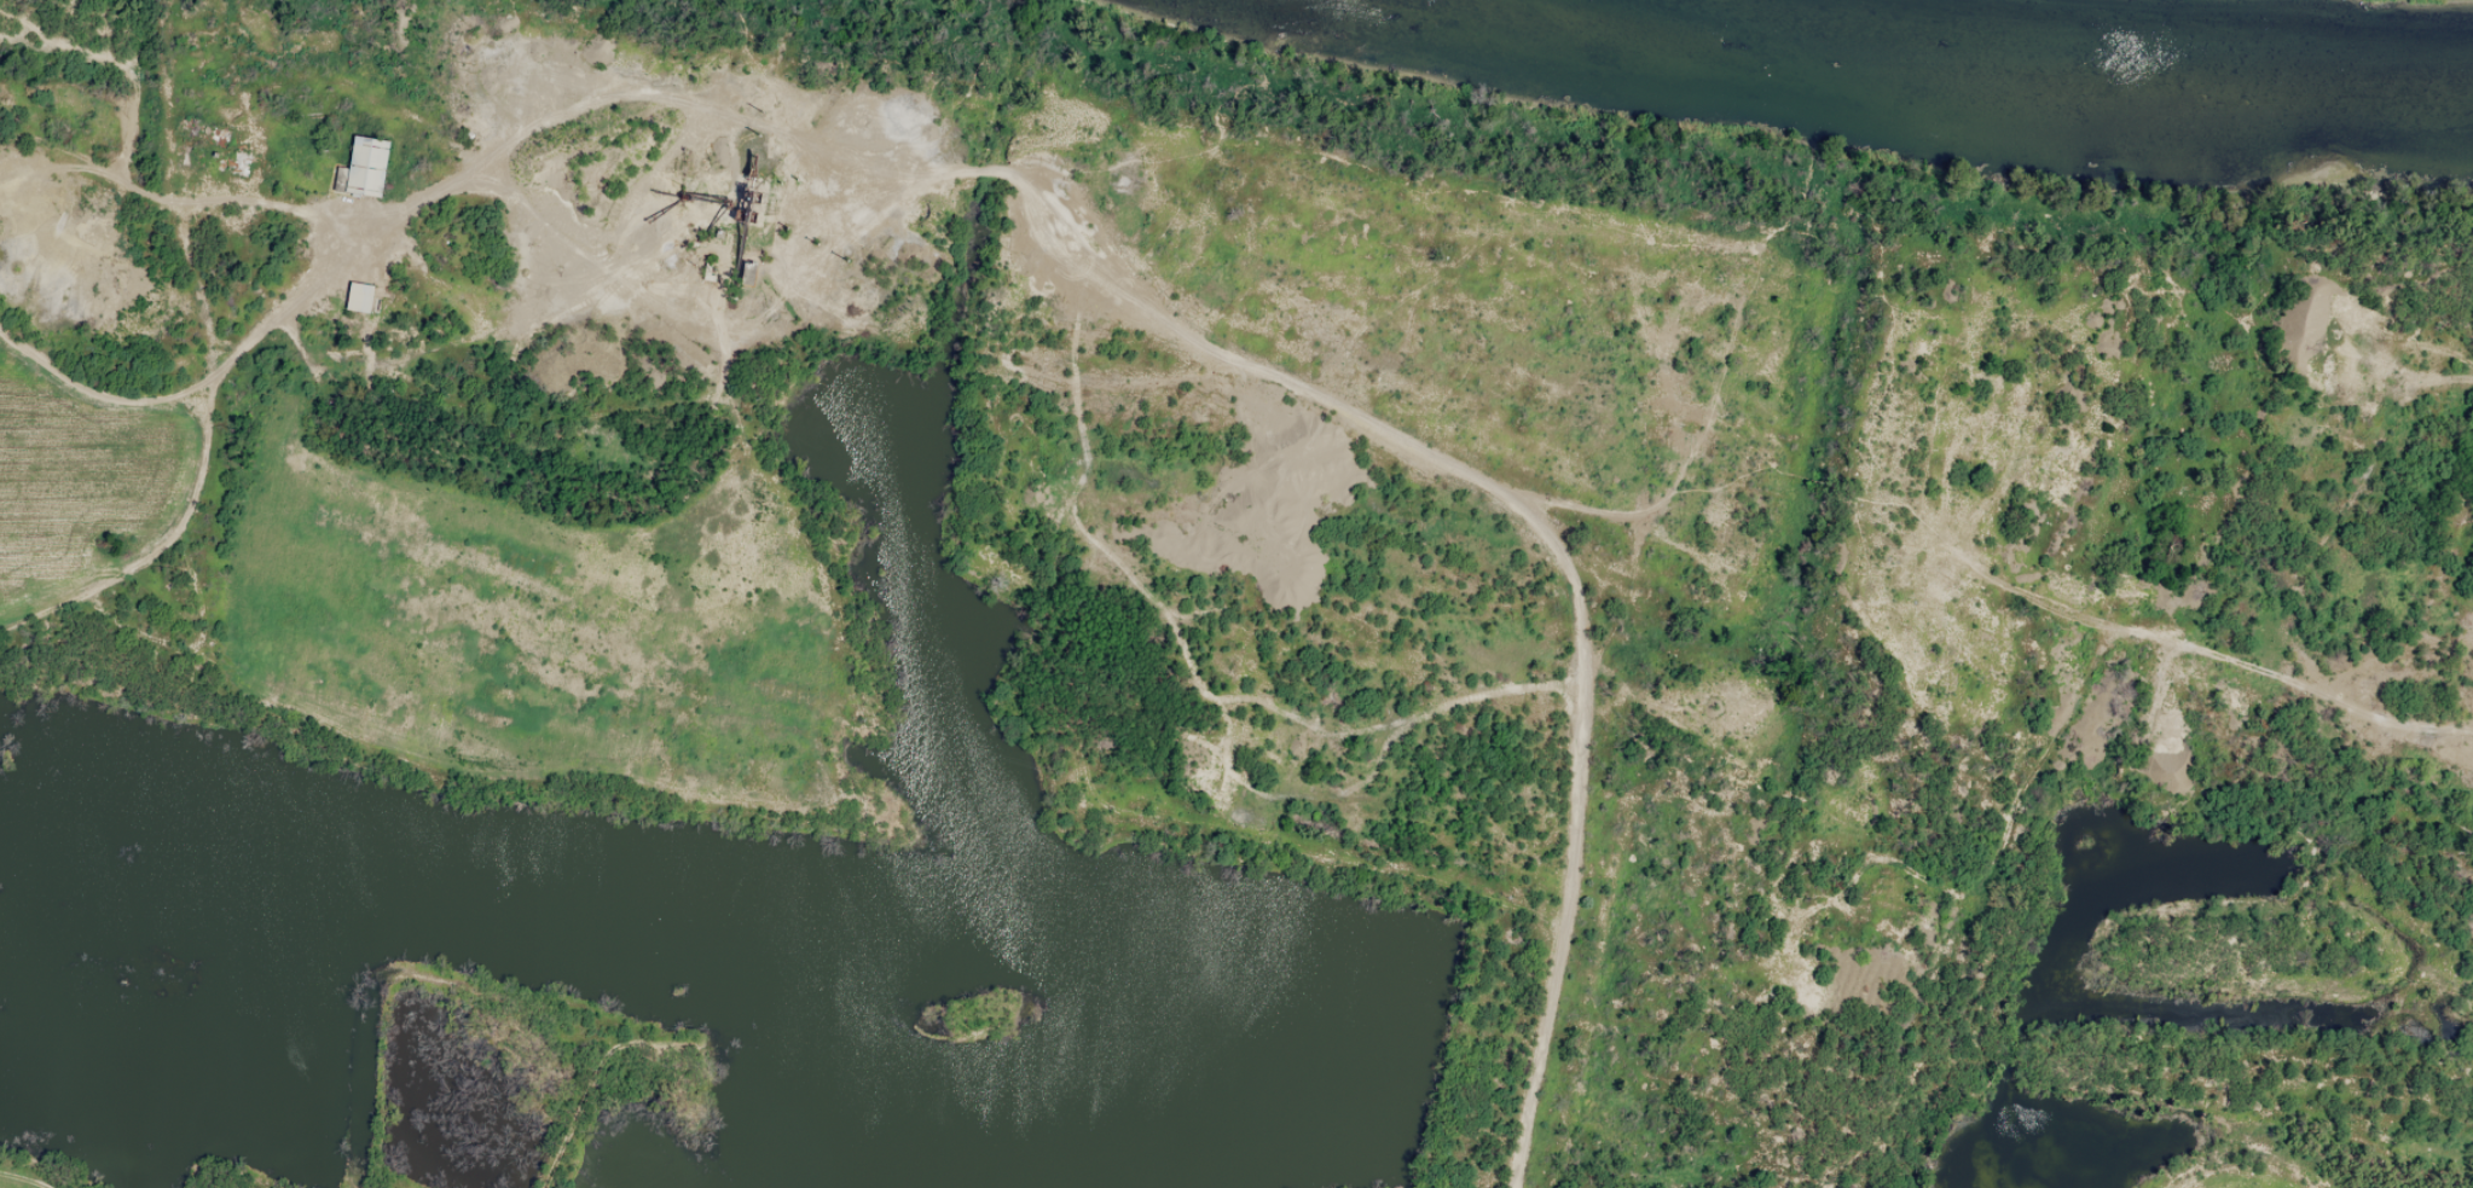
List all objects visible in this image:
river: (1796, 21)
river: (2005, 63)
building: (219, 135)
building: (363, 166)

